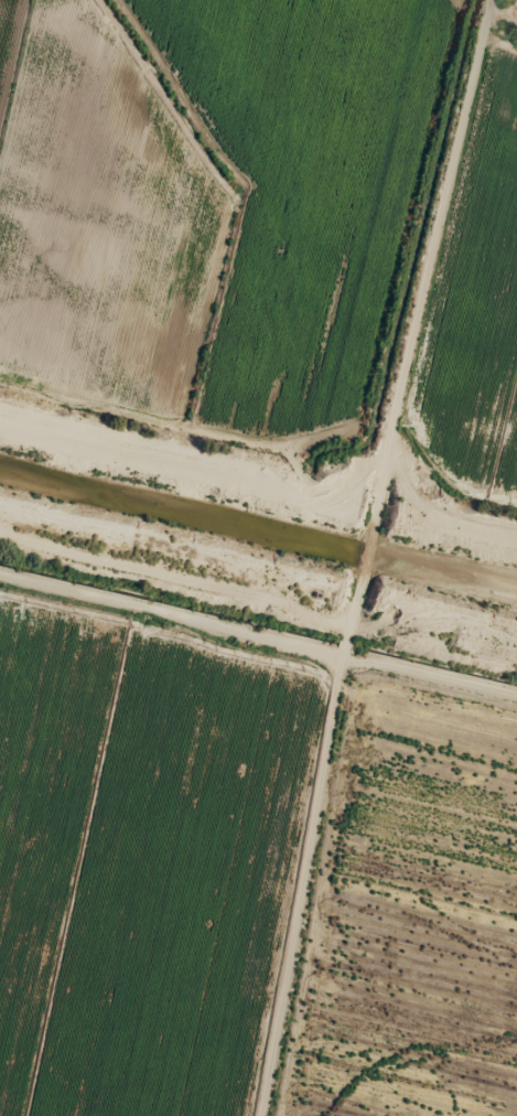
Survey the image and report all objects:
crop: (207, 210)

